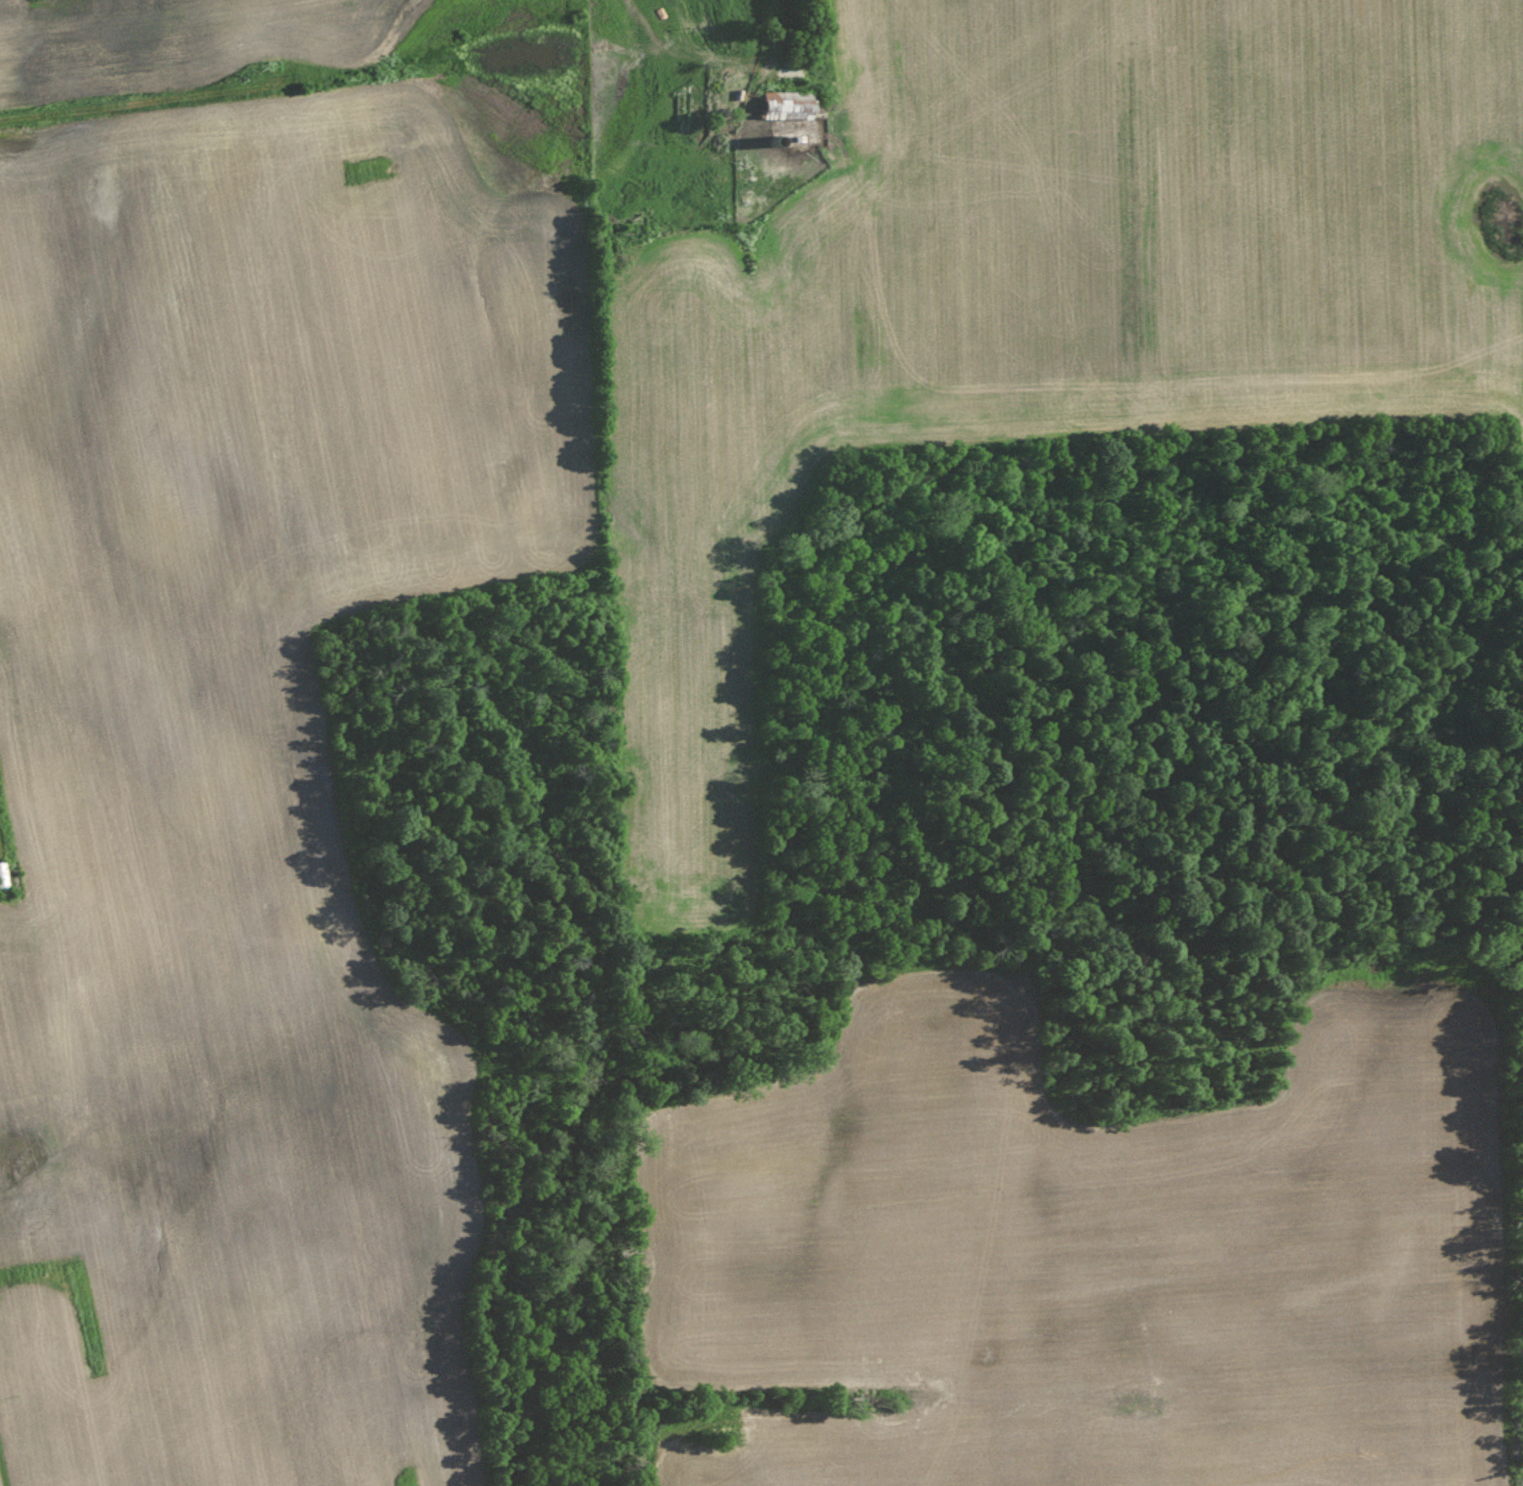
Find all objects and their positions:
road: (128, 37)
building: (787, 107)
building: (2, 874)

